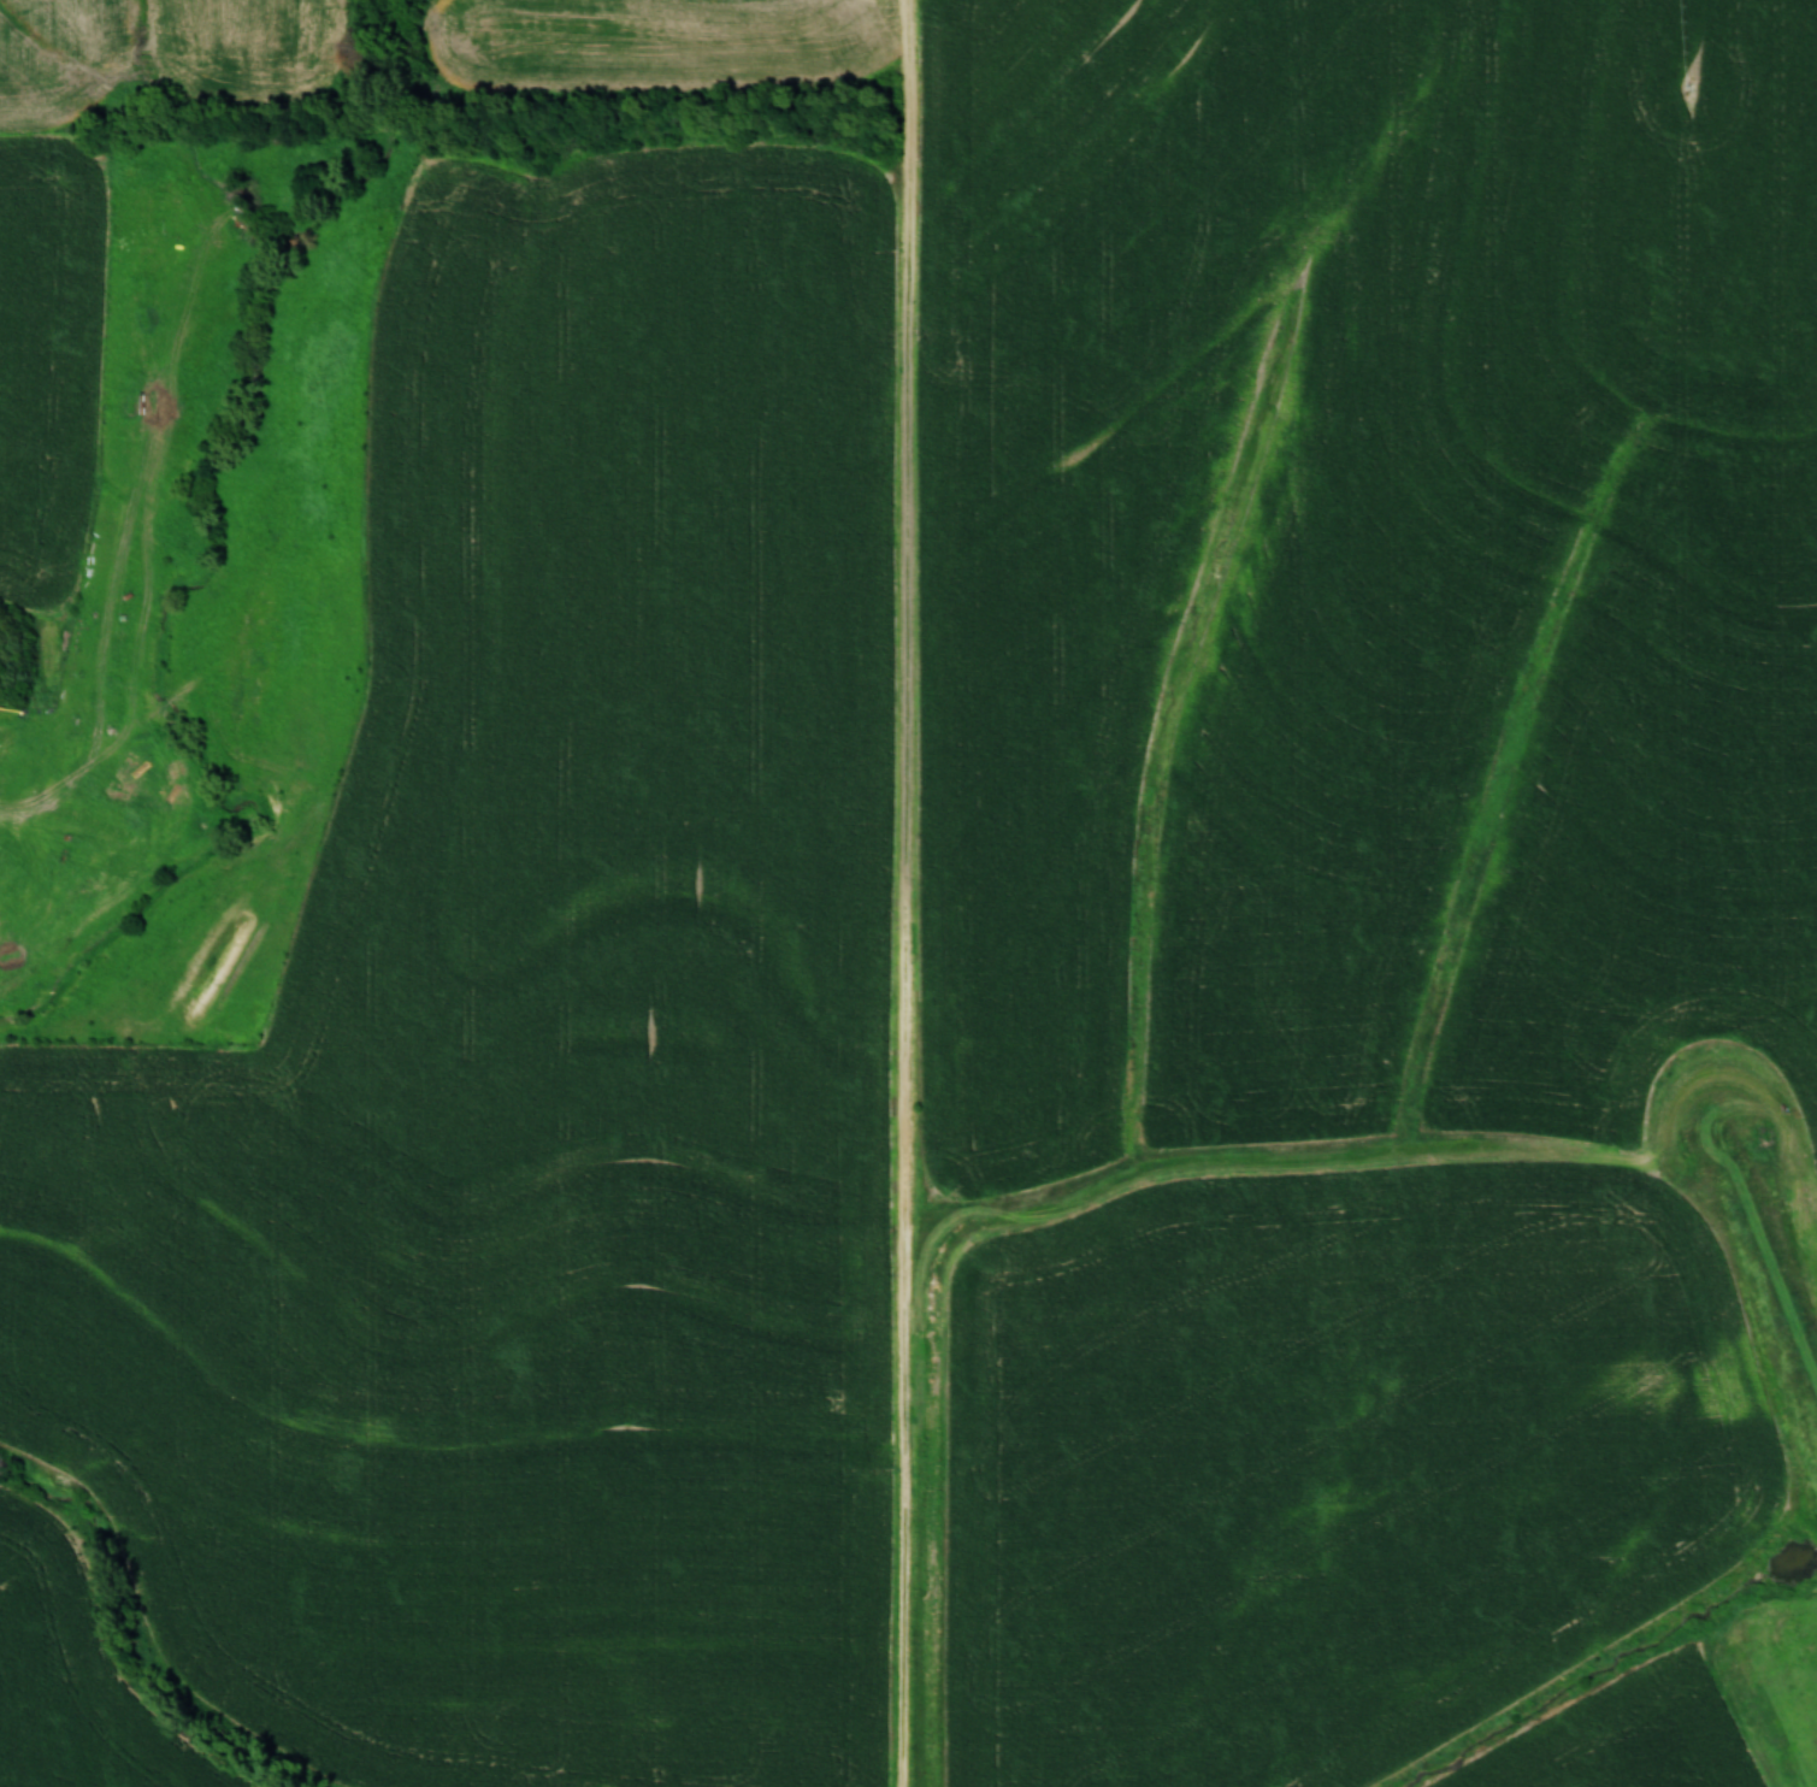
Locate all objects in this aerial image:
road: (907, 892)

